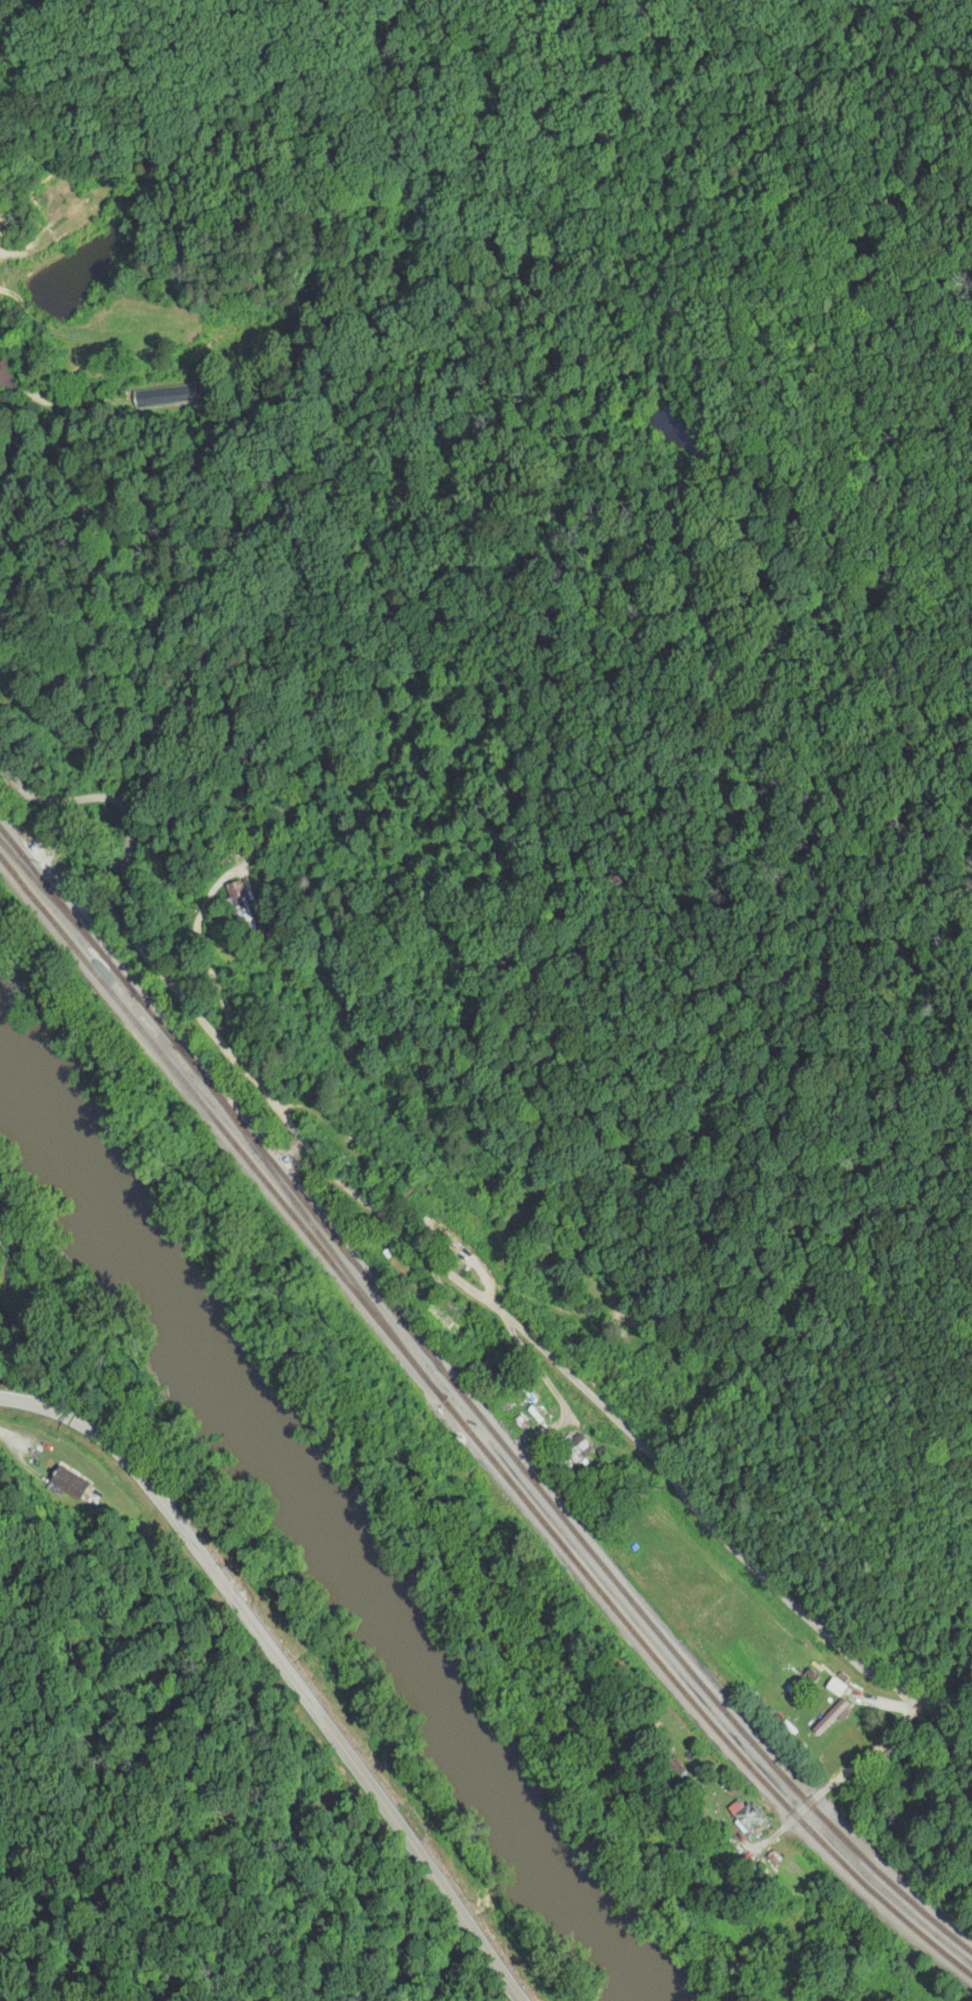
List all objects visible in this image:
building: (235, 892)
road: (480, 1276)
building: (445, 1321)
railway: (469, 1413)
building: (577, 1448)
building: (67, 1480)
river: (314, 1543)
road: (285, 1671)
building: (830, 1718)
building: (742, 1814)

